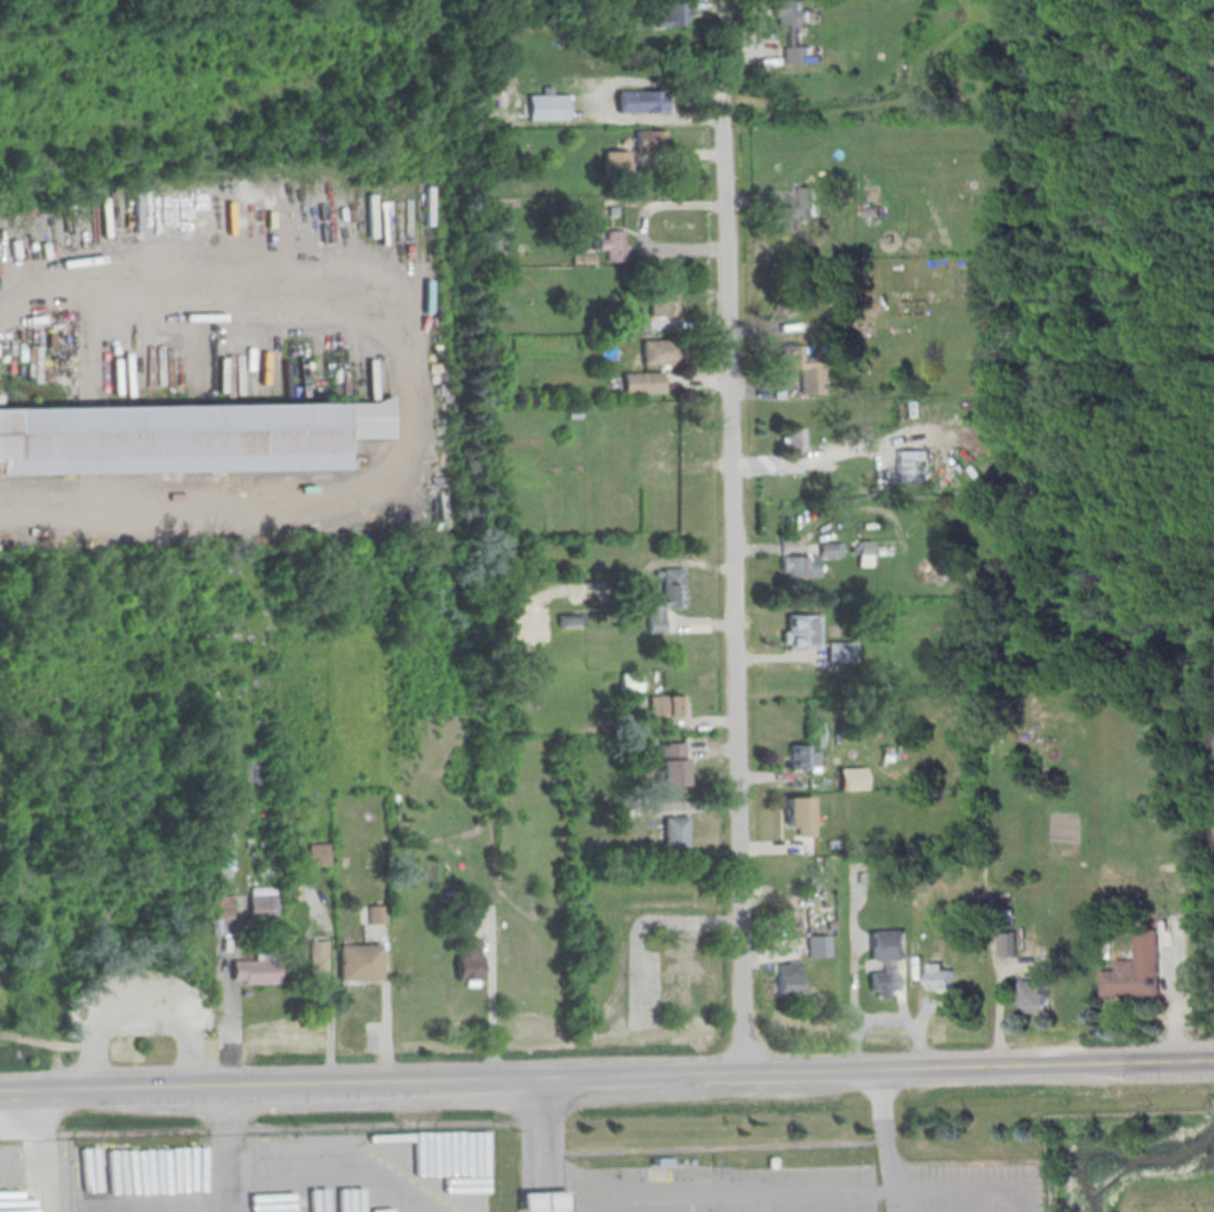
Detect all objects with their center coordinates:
building: (672, 15)
building: (792, 27)
building: (638, 101)
building: (545, 108)
building: (649, 140)
building: (614, 164)
building: (795, 210)
building: (870, 211)
building: (501, 221)
building: (611, 245)
building: (581, 259)
building: (662, 304)
building: (635, 323)
building: (659, 353)
building: (802, 369)
building: (641, 383)
road: (417, 398)
building: (183, 437)
building: (794, 439)
building: (908, 468)
road: (730, 535)
building: (830, 550)
building: (797, 566)
building: (662, 599)
building: (570, 620)
building: (802, 633)
building: (839, 652)
building: (629, 681)
building: (665, 705)
building: (802, 756)
building: (672, 769)
building: (851, 779)
building: (799, 816)
building: (674, 836)
building: (223, 850)
building: (317, 856)
building: (260, 901)
building: (223, 906)
building: (375, 915)
building: (1009, 944)
building: (314, 954)
building: (885, 960)
building: (358, 964)
building: (466, 965)
building: (1136, 970)
building: (253, 971)
building: (788, 978)
building: (941, 978)
building: (1037, 995)
road: (136, 1010)
road: (1202, 1060)
road: (617, 1074)
road: (21, 1089)
road: (886, 1138)
road: (541, 1143)
road: (224, 1148)
road: (45, 1150)
road: (332, 1160)
road: (80, 1162)
road: (717, 1192)
road: (970, 1195)
building: (541, 1201)
road: (917, 1205)

